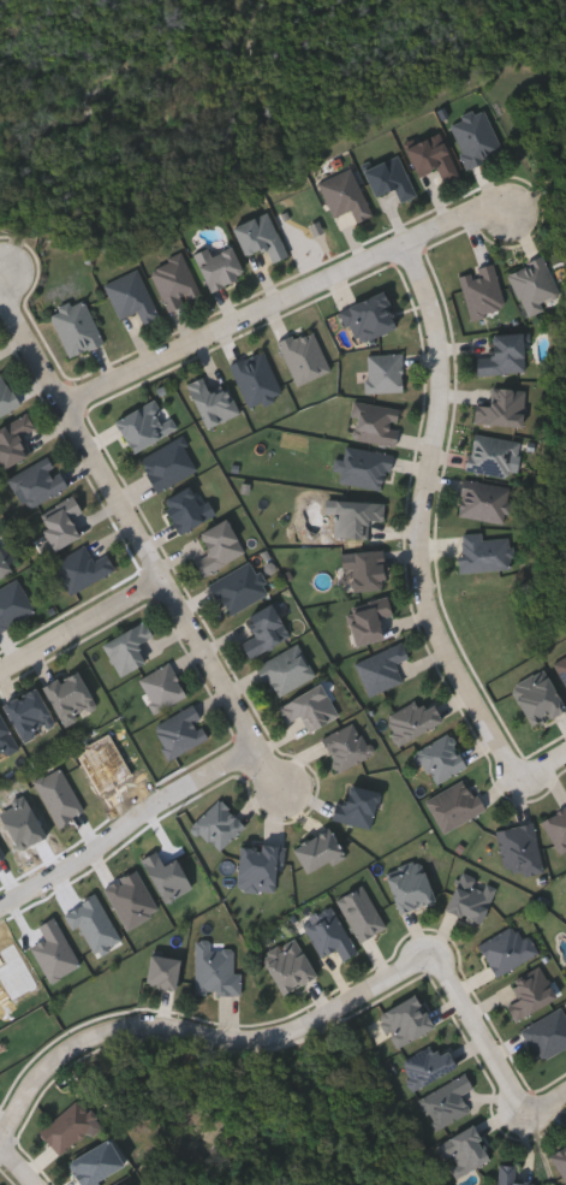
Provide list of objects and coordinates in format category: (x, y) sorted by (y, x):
building: (477, 137)
building: (434, 155)
building: (392, 177)
building: (347, 199)
building: (261, 235)
building: (220, 265)
building: (177, 282)
building: (536, 284)
building: (483, 290)
building: (132, 296)
road: (287, 297)
building: (77, 326)
building: (505, 354)
building: (306, 356)
building: (386, 371)
building: (257, 378)
building: (6, 396)
building: (214, 401)
building: (504, 408)
building: (377, 422)
building: (145, 423)
building: (14, 439)
building: (494, 454)
building: (169, 463)
building: (365, 467)
building: (40, 481)
building: (485, 503)
building: (189, 508)
building: (358, 516)
road: (433, 519)
building: (64, 522)
road: (132, 532)
building: (220, 546)
building: (487, 551)
building: (5, 567)
building: (83, 568)
building: (367, 569)
building: (240, 587)
building: (14, 604)
building: (370, 618)
road: (79, 627)
building: (266, 630)
building: (129, 647)
building: (383, 668)
building: (287, 670)
building: (562, 671)
building: (162, 687)
building: (71, 697)
building: (540, 699)
building: (311, 707)
building: (30, 715)
building: (413, 719)
building: (183, 730)
building: (6, 739)
building: (348, 746)
building: (442, 758)
road: (547, 768)
building: (359, 805)
building: (455, 805)
building: (220, 825)
road: (127, 829)
building: (318, 849)
building: (260, 865)
building: (363, 912)
building: (332, 935)
building: (510, 948)
building: (216, 970)
building: (532, 994)
road: (475, 1033)
building: (548, 1033)
road: (202, 1037)
road: (542, 1104)
building: (561, 1160)
road: (18, 1165)
building: (513, 1175)
building: (123, 1184)

